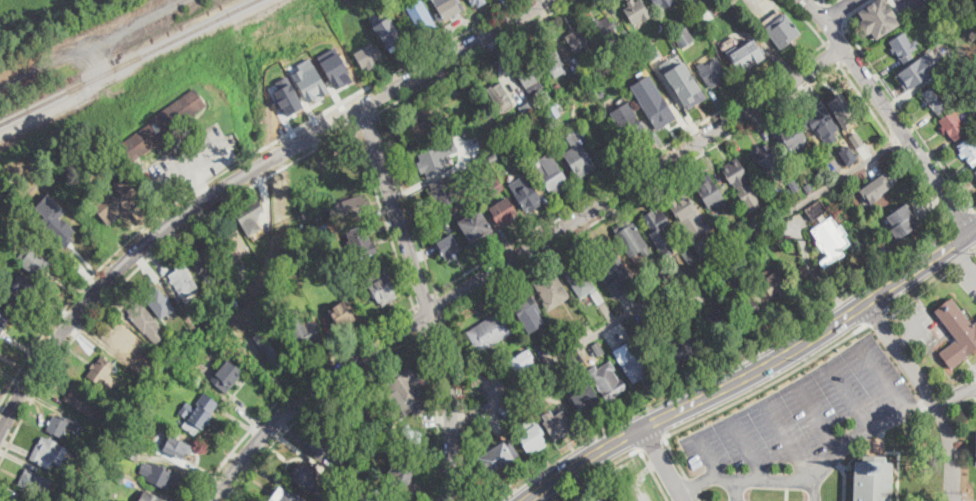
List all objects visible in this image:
building: (478, 2)
building: (664, 3)
road: (919, 4)
parking lot: (910, 5)
railway: (14, 6)
road: (837, 8)
road: (897, 8)
building: (448, 9)
road: (852, 10)
building: (636, 11)
road: (834, 12)
building: (706, 14)
building: (879, 17)
building: (423, 19)
building: (674, 19)
road: (809, 21)
building: (333, 22)
road: (827, 22)
building: (606, 29)
building: (783, 31)
building: (413, 34)
building: (683, 35)
building: (390, 40)
building: (580, 40)
building: (903, 47)
road: (833, 53)
road: (472, 54)
building: (745, 54)
building: (367, 57)
railway: (129, 62)
building: (554, 62)
building: (607, 62)
building: (641, 62)
building: (336, 69)
building: (918, 71)
building: (712, 72)
building: (530, 79)
building: (311, 80)
building: (683, 81)
building: (558, 86)
building: (601, 95)
building: (501, 96)
building: (574, 96)
building: (290, 97)
building: (936, 98)
building: (653, 101)
building: (963, 107)
building: (530, 108)
building: (842, 109)
building: (554, 111)
road: (364, 116)
building: (464, 116)
building: (505, 117)
road: (908, 117)
building: (531, 121)
building: (821, 124)
building: (508, 125)
building: (953, 125)
building: (160, 126)
building: (421, 126)
building: (632, 126)
building: (791, 136)
building: (856, 139)
road: (894, 141)
road: (908, 141)
building: (472, 144)
building: (969, 150)
building: (847, 156)
building: (493, 157)
building: (579, 157)
building: (764, 157)
building: (22, 161)
building: (433, 161)
building: (480, 162)
road: (191, 166)
road: (233, 167)
road: (632, 169)
building: (975, 172)
building: (550, 174)
road: (241, 179)
road: (200, 182)
building: (0, 183)
building: (742, 183)
building: (495, 186)
building: (876, 187)
building: (803, 188)
road: (643, 191)
building: (445, 192)
building: (709, 192)
building: (528, 194)
building: (30, 195)
building: (116, 200)
road: (407, 200)
building: (683, 206)
building: (351, 208)
building: (818, 209)
building: (504, 211)
road: (383, 214)
building: (250, 215)
building: (901, 222)
building: (658, 223)
building: (476, 227)
building: (58, 228)
building: (322, 229)
building: (630, 237)
building: (234, 241)
building: (361, 241)
building: (832, 241)
building: (704, 244)
building: (449, 245)
road: (973, 248)
building: (756, 251)
building: (689, 255)
road: (961, 256)
building: (205, 257)
road: (516, 257)
road: (963, 258)
building: (34, 259)
road: (144, 259)
building: (613, 269)
parking lot: (967, 275)
building: (663, 276)
building: (183, 279)
road: (677, 279)
building: (581, 282)
building: (773, 284)
road: (919, 285)
building: (16, 286)
building: (381, 286)
building: (552, 290)
building: (159, 298)
road: (424, 298)
road: (426, 301)
road: (439, 304)
building: (526, 307)
building: (751, 309)
building: (342, 313)
road: (875, 315)
building: (142, 316)
building: (2, 317)
building: (720, 317)
road: (419, 318)
road: (433, 323)
parking lot: (916, 324)
building: (0, 329)
building: (490, 331)
road: (918, 331)
building: (957, 333)
building: (572, 335)
building: (304, 336)
building: (521, 338)
building: (128, 342)
building: (270, 343)
building: (599, 349)
building: (684, 351)
building: (521, 361)
building: (633, 361)
building: (163, 363)
parking lot: (974, 370)
building: (491, 371)
building: (148, 372)
road: (754, 372)
building: (101, 374)
building: (227, 375)
road: (881, 377)
building: (607, 380)
road: (291, 387)
building: (407, 388)
parking lot: (960, 393)
building: (133, 394)
road: (930, 394)
road: (955, 394)
road: (750, 395)
road: (848, 395)
road: (463, 396)
building: (145, 399)
building: (585, 400)
building: (84, 401)
road: (313, 402)
building: (363, 412)
building: (198, 413)
building: (123, 415)
road: (437, 415)
road: (818, 416)
parking lot: (805, 421)
building: (557, 424)
building: (62, 425)
building: (404, 425)
building: (373, 434)
building: (129, 435)
building: (412, 438)
road: (788, 438)
building: (532, 440)
building: (326, 441)
road: (653, 442)
building: (173, 445)
road: (749, 449)
building: (48, 452)
building: (135, 452)
building: (975, 452)
building: (498, 453)
road: (708, 456)
road: (663, 463)
building: (98, 469)
road: (600, 471)
building: (344, 472)
road: (815, 473)
building: (160, 475)
road: (654, 475)
building: (118, 476)
building: (306, 476)
building: (400, 477)
building: (353, 478)
building: (872, 479)
building: (338, 480)
building: (35, 481)
road: (693, 485)
road: (817, 488)
road: (736, 490)
parking lot: (815, 490)
parking lot: (736, 491)
road: (787, 495)
building: (148, 496)
building: (285, 496)
building: (365, 498)
road: (699, 498)
building: (17, 499)
building: (595, 499)
building: (786, 500)

